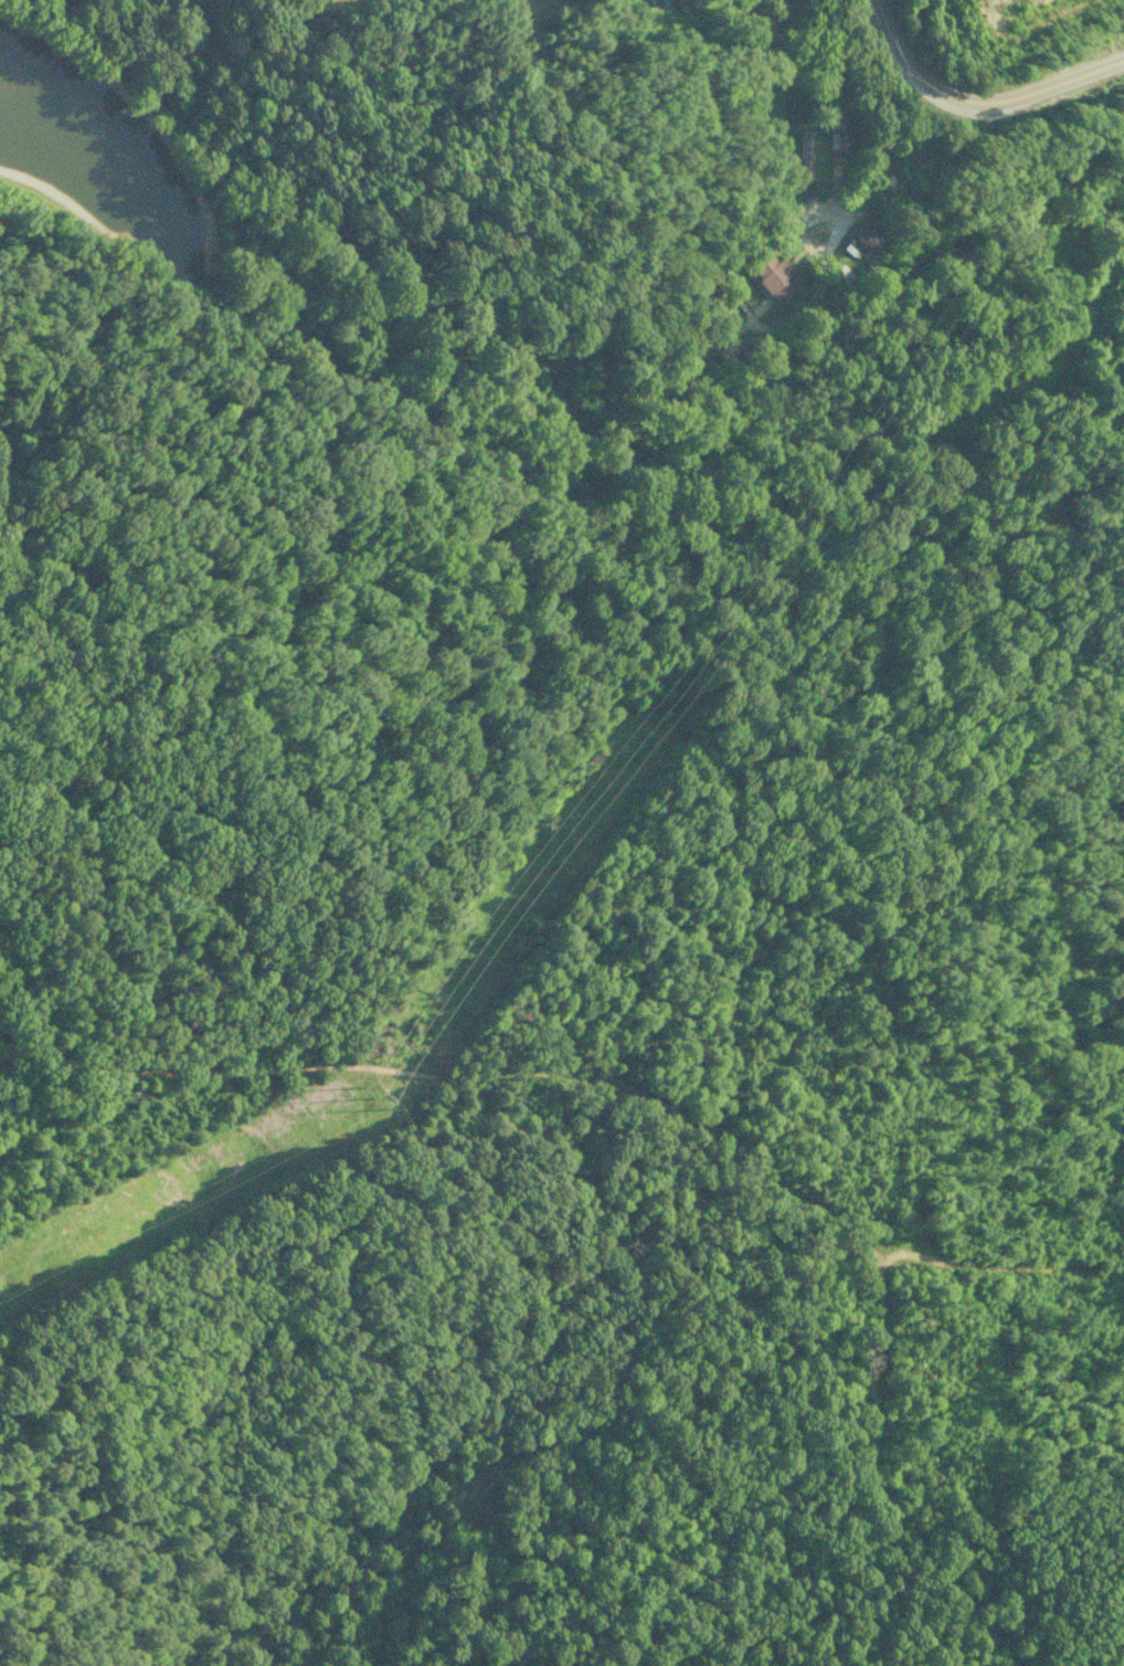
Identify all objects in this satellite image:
building: (654, 2)
road: (977, 104)
building: (839, 131)
building: (803, 154)
building: (809, 188)
building: (867, 233)
building: (772, 276)
power tower: (383, 1096)

